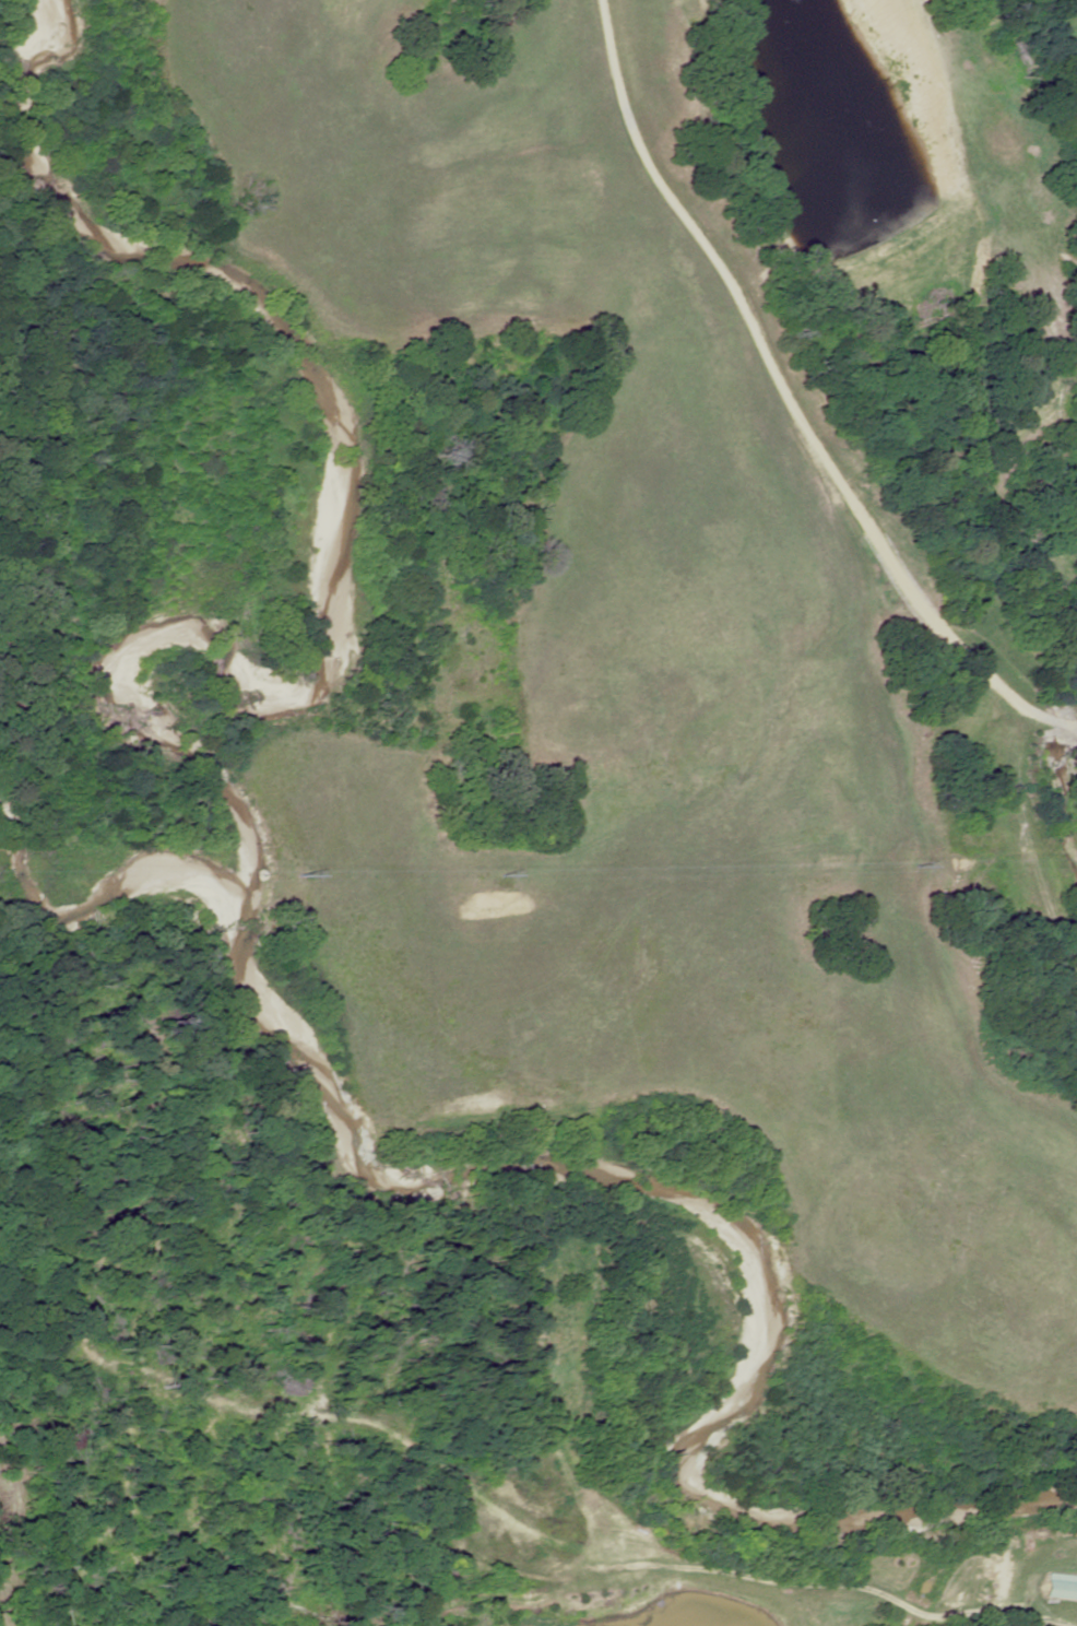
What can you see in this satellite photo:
power tower: (915, 865)
power tower: (501, 874)
building: (1060, 1587)

